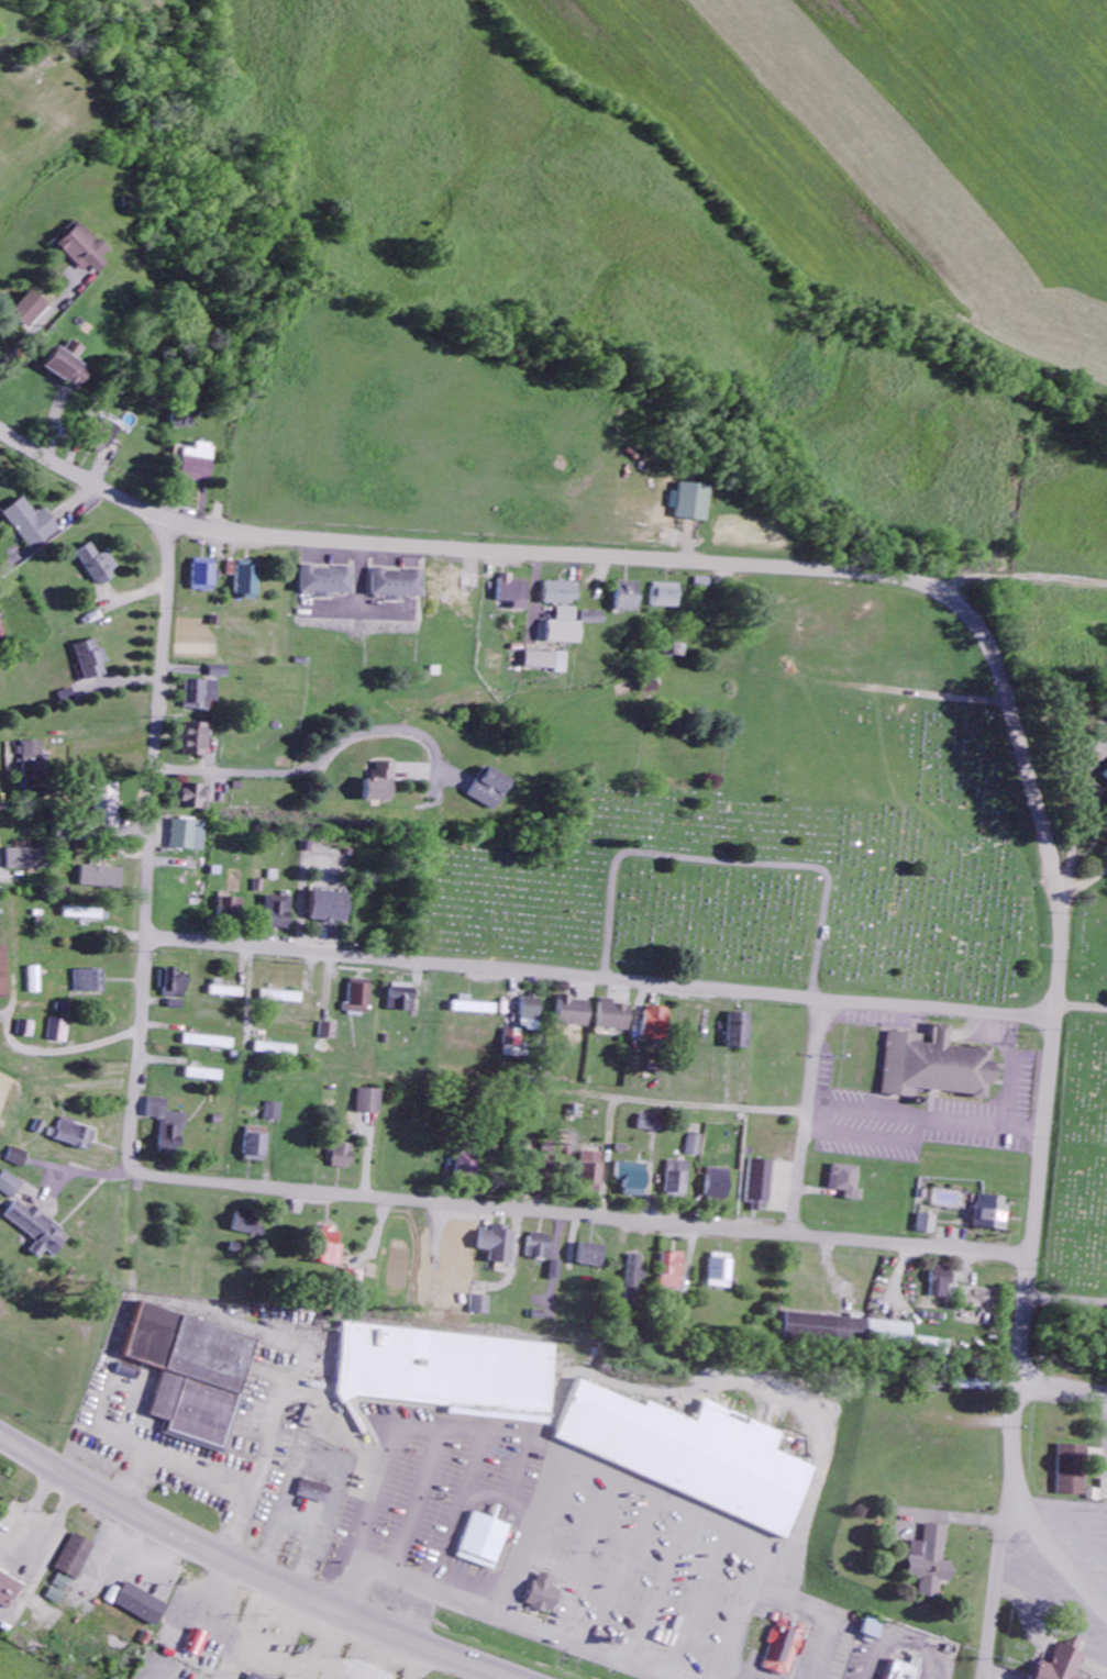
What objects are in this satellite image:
building: (85, 249)
building: (33, 312)
building: (76, 349)
building: (70, 368)
building: (187, 422)
building: (107, 438)
building: (200, 464)
road: (82, 477)
building: (693, 502)
building: (33, 524)
building: (98, 565)
building: (203, 577)
building: (247, 580)
building: (326, 582)
building: (397, 583)
road: (1037, 587)
building: (513, 592)
building: (562, 593)
building: (667, 597)
building: (630, 598)
building: (596, 619)
building: (565, 629)
building: (2, 633)
building: (90, 660)
building: (549, 663)
building: (220, 672)
building: (201, 696)
road: (1015, 723)
building: (197, 741)
building: (35, 761)
building: (1105, 776)
building: (385, 785)
building: (495, 789)
building: (195, 797)
building: (110, 808)
building: (190, 836)
road: (152, 847)
building: (29, 860)
road: (724, 863)
building: (102, 878)
park: (777, 886)
building: (233, 908)
building: (332, 909)
building: (280, 913)
building: (86, 915)
building: (3, 975)
road: (601, 976)
building: (90, 982)
building: (174, 986)
building: (224, 991)
building: (359, 997)
building: (281, 998)
building: (403, 998)
road: (1083, 1005)
building: (472, 1008)
road: (7, 1011)
building: (574, 1013)
building: (530, 1015)
building: (613, 1016)
building: (655, 1024)
building: (24, 1030)
building: (57, 1032)
building: (328, 1032)
building: (741, 1032)
building: (207, 1043)
building: (514, 1046)
road: (1016, 1064)
building: (932, 1065)
building: (202, 1076)
building: (370, 1102)
road: (658, 1104)
building: (273, 1112)
road: (870, 1113)
park: (1076, 1113)
road: (813, 1116)
building: (654, 1124)
road: (972, 1126)
building: (168, 1127)
building: (74, 1136)
road: (866, 1138)
building: (698, 1146)
building: (255, 1149)
building: (342, 1157)
building: (16, 1158)
building: (472, 1164)
building: (597, 1168)
building: (552, 1170)
building: (638, 1179)
building: (682, 1179)
building: (851, 1182)
building: (723, 1186)
building: (765, 1186)
building: (9, 1187)
building: (994, 1214)
road: (585, 1216)
building: (248, 1224)
building: (930, 1225)
building: (37, 1231)
building: (506, 1246)
building: (549, 1247)
building: (329, 1248)
building: (599, 1257)
building: (564, 1272)
building: (677, 1272)
building: (726, 1272)
building: (639, 1282)
building: (944, 1283)
road: (1067, 1298)
building: (488, 1306)
building: (860, 1332)
building: (447, 1370)
building: (190, 1371)
building: (975, 1386)
road: (1062, 1394)
building: (690, 1453)
building: (1074, 1472)
road: (631, 1480)
building: (317, 1493)
building: (1098, 1494)
building: (479, 1538)
building: (76, 1558)
building: (930, 1563)
road: (251, 1570)
road: (996, 1579)
building: (59, 1591)
building: (9, 1593)
building: (539, 1593)
building: (143, 1606)
road: (492, 1615)
building: (873, 1631)
road: (901, 1635)
building: (197, 1644)
building: (784, 1647)
building: (1062, 1663)
building: (904, 1671)
building: (355, 1674)
building: (252, 1676)

